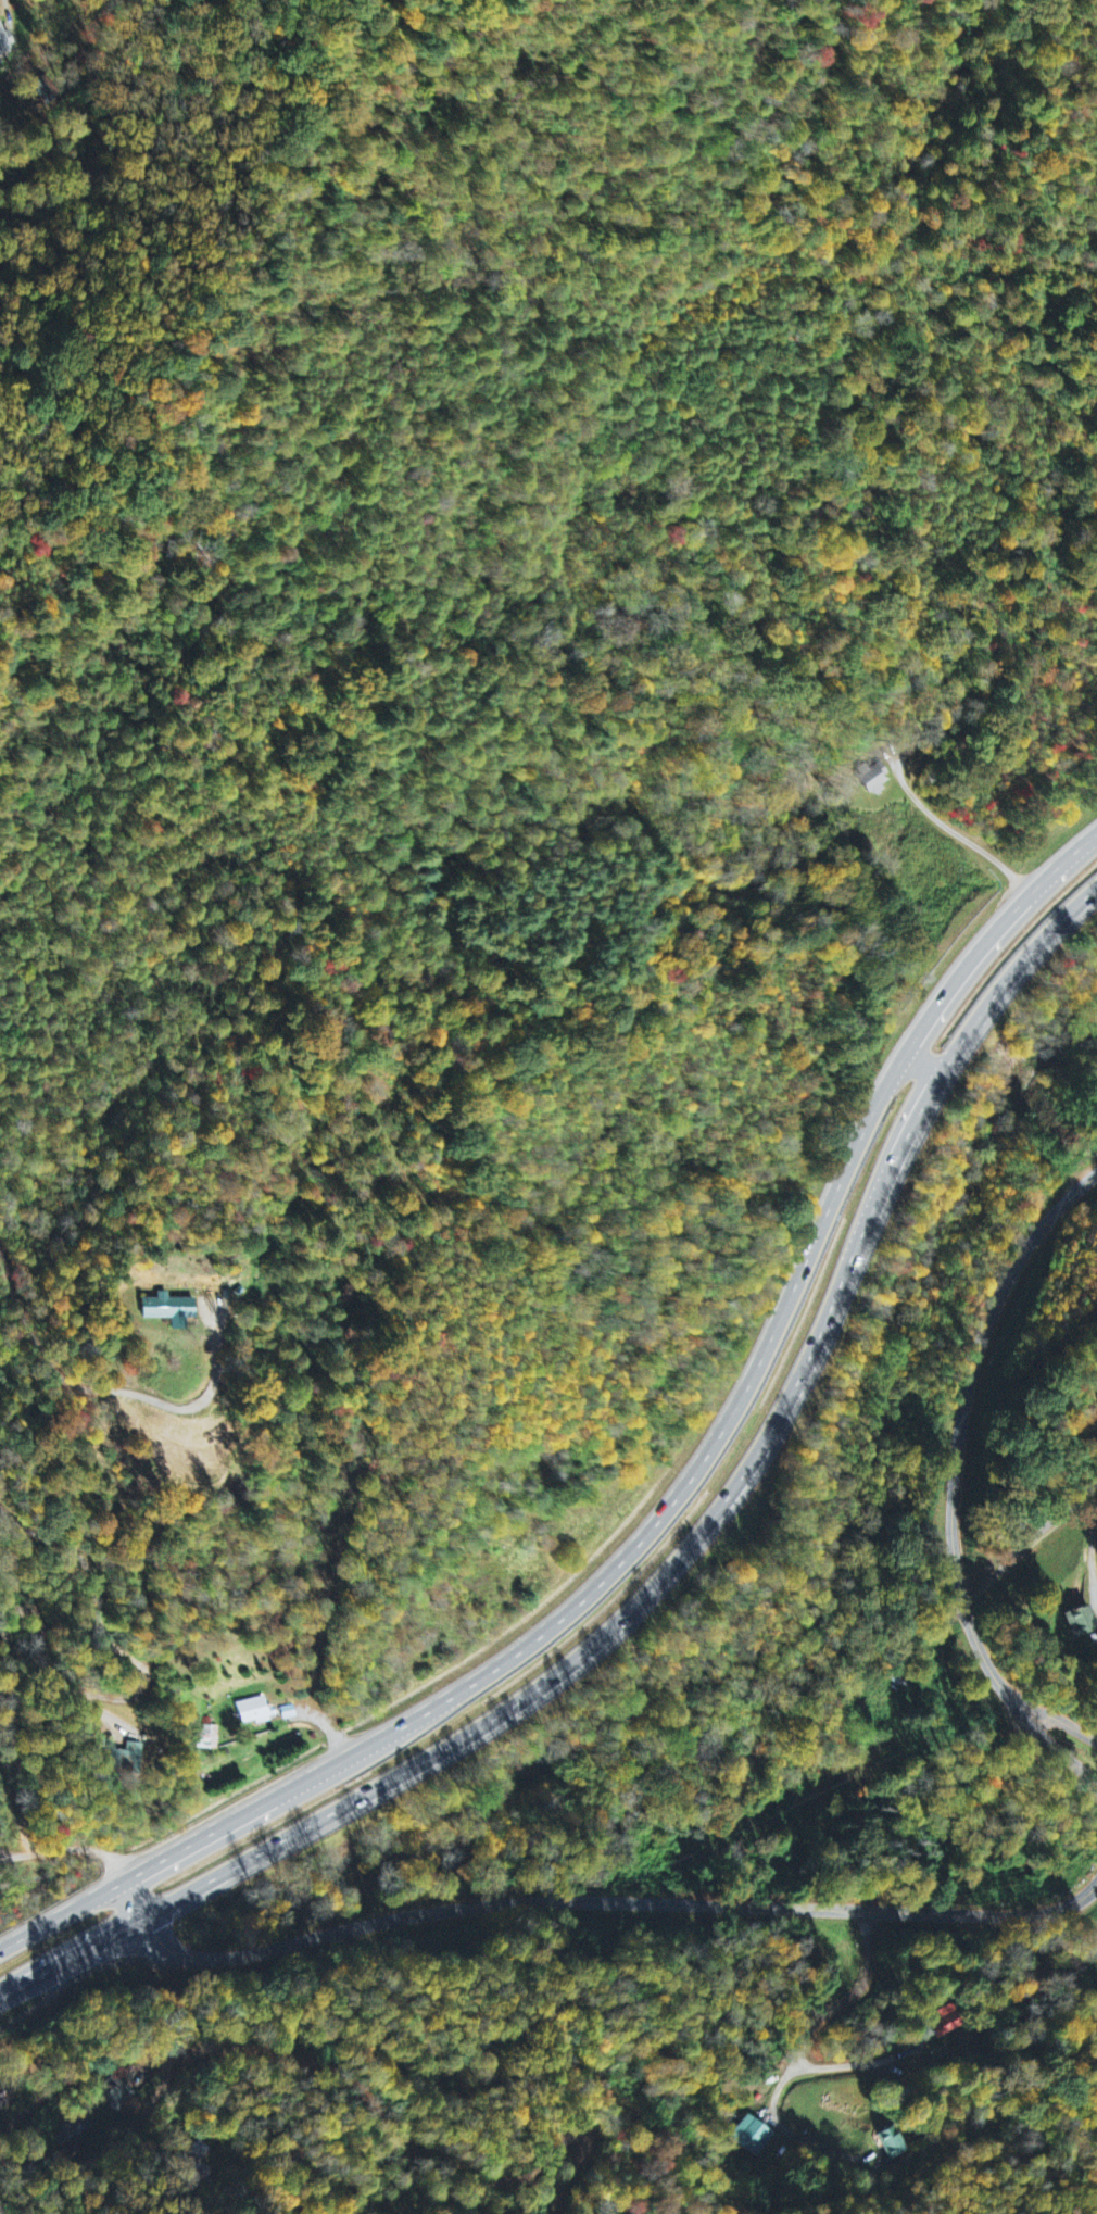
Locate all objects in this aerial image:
building: (1, 42)
road: (642, 629)
building: (872, 781)
road: (919, 1064)
building: (167, 1310)
road: (958, 1429)
road: (666, 1506)
road: (670, 1552)
building: (1075, 1622)
building: (253, 1712)
building: (290, 1713)
road: (1063, 1726)
building: (211, 1738)
road: (1063, 1744)
road: (595, 1902)
road: (48, 1995)
road: (857, 1998)
building: (943, 2024)
road: (163, 2052)
road: (848, 2067)
building: (118, 2097)
building: (891, 2144)

